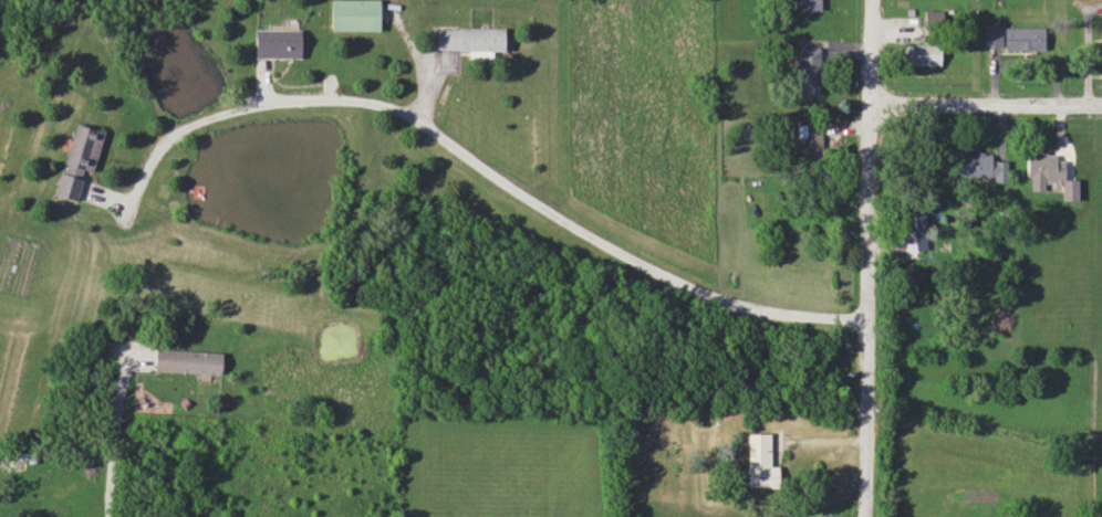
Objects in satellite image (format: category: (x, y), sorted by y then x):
building: (809, 4)
building: (354, 15)
building: (935, 19)
building: (1012, 38)
building: (469, 39)
building: (277, 43)
road: (871, 51)
building: (923, 54)
building: (808, 70)
road: (342, 98)
road: (986, 102)
building: (811, 144)
building: (77, 160)
building: (976, 166)
building: (1042, 166)
building: (913, 230)
road: (865, 308)
building: (187, 359)
building: (760, 461)

